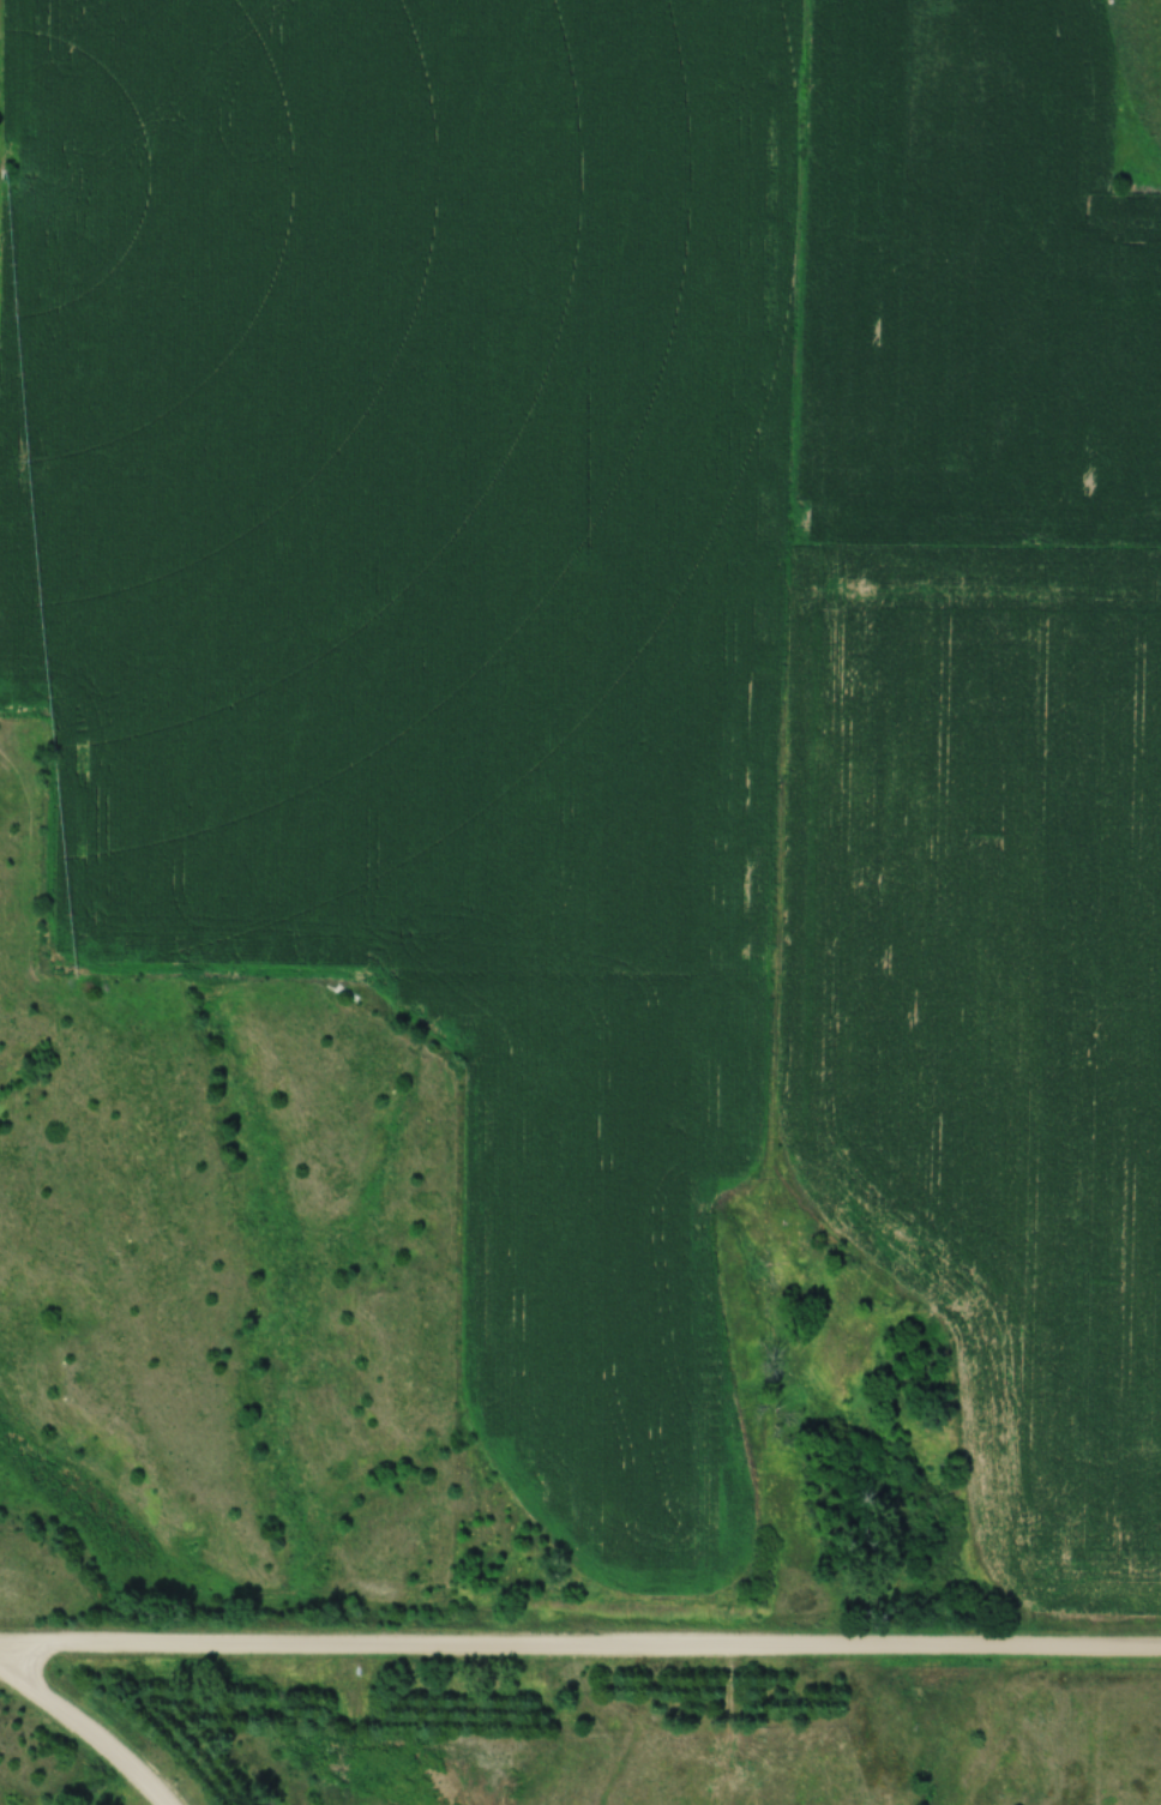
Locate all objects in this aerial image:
road: (579, 1642)
road: (12, 1672)
road: (102, 1737)

